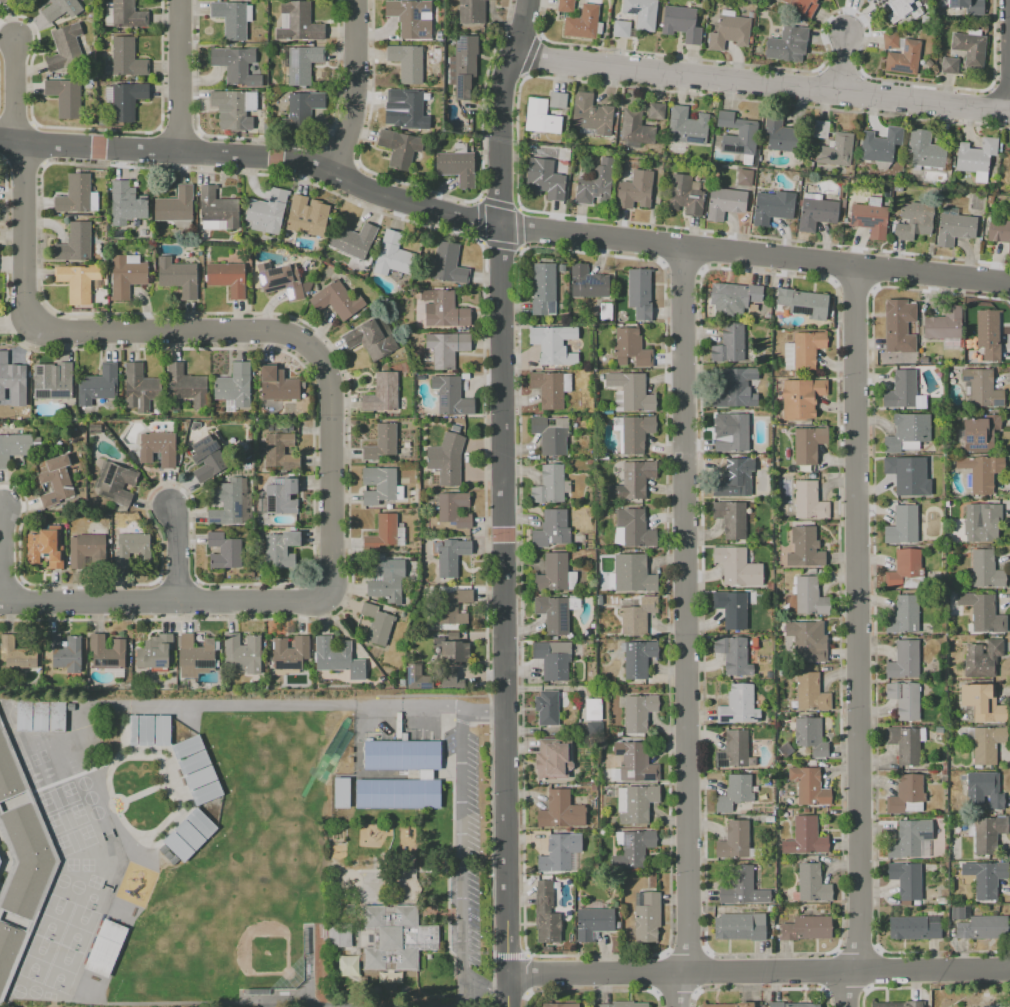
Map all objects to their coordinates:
building: (5, 1)
building: (563, 6)
building: (803, 6)
building: (965, 6)
building: (898, 8)
building: (61, 9)
building: (472, 11)
building: (641, 13)
building: (125, 15)
building: (231, 18)
building: (410, 18)
building: (297, 22)
building: (582, 22)
building: (681, 23)
building: (620, 28)
building: (729, 31)
building: (890, 39)
building: (786, 44)
building: (65, 48)
building: (970, 48)
road: (1005, 52)
building: (126, 57)
building: (904, 58)
building: (406, 62)
road: (844, 62)
building: (235, 64)
building: (302, 64)
building: (462, 65)
building: (949, 65)
road: (179, 76)
road: (760, 79)
road: (357, 91)
road: (14, 94)
building: (65, 96)
building: (557, 99)
building: (124, 100)
road: (1007, 105)
building: (408, 107)
building: (233, 108)
building: (301, 110)
road: (500, 110)
building: (656, 111)
building: (591, 114)
building: (541, 117)
building: (687, 126)
building: (635, 128)
building: (820, 129)
building: (737, 134)
building: (780, 134)
building: (879, 145)
building: (399, 147)
building: (836, 150)
building: (924, 150)
building: (564, 154)
building: (975, 156)
road: (251, 161)
building: (456, 164)
building: (744, 177)
building: (1009, 178)
building: (545, 179)
building: (596, 183)
building: (635, 190)
building: (76, 195)
building: (685, 195)
building: (125, 202)
building: (725, 202)
building: (175, 205)
building: (218, 207)
building: (772, 207)
building: (267, 211)
building: (816, 213)
building: (306, 216)
building: (869, 219)
building: (913, 220)
building: (954, 228)
building: (999, 232)
building: (353, 240)
building: (74, 243)
building: (394, 255)
road: (752, 256)
building: (448, 263)
building: (561, 267)
building: (126, 275)
building: (177, 276)
building: (227, 278)
building: (281, 279)
building: (77, 281)
building: (587, 282)
building: (543, 289)
building: (639, 292)
building: (733, 296)
building: (338, 300)
building: (804, 303)
building: (443, 309)
building: (605, 311)
building: (944, 323)
building: (896, 325)
road: (207, 332)
building: (988, 333)
building: (372, 337)
building: (554, 344)
building: (729, 344)
building: (631, 346)
building: (446, 347)
building: (807, 348)
building: (10, 376)
building: (601, 376)
building: (54, 384)
building: (98, 384)
building: (234, 385)
building: (278, 385)
building: (184, 387)
building: (549, 387)
building: (139, 388)
building: (735, 388)
building: (982, 388)
building: (901, 389)
building: (630, 391)
building: (382, 393)
building: (451, 396)
building: (801, 397)
building: (919, 401)
building: (95, 428)
building: (74, 430)
building: (633, 431)
building: (907, 432)
building: (979, 433)
building: (551, 434)
building: (733, 434)
building: (381, 442)
building: (809, 444)
building: (14, 447)
building: (157, 448)
building: (280, 451)
building: (207, 458)
building: (446, 458)
building: (980, 472)
building: (905, 476)
building: (633, 479)
building: (732, 479)
building: (56, 480)
building: (114, 483)
building: (380, 485)
building: (550, 485)
building: (282, 496)
building: (809, 501)
building: (226, 503)
building: (450, 508)
building: (731, 518)
building: (982, 523)
building: (902, 525)
building: (632, 527)
building: (551, 529)
building: (386, 533)
building: (807, 544)
building: (46, 547)
building: (132, 549)
building: (280, 549)
building: (87, 550)
building: (223, 551)
road: (174, 554)
building: (449, 556)
road: (5, 557)
building: (736, 566)
building: (985, 569)
building: (905, 570)
building: (555, 573)
building: (635, 574)
building: (386, 580)
building: (809, 597)
road: (162, 598)
building: (574, 602)
building: (453, 607)
building: (731, 608)
building: (983, 612)
building: (553, 613)
road: (503, 615)
building: (637, 615)
building: (903, 615)
building: (377, 624)
road: (688, 627)
building: (452, 636)
road: (860, 637)
building: (808, 640)
building: (453, 650)
building: (64, 652)
building: (155, 652)
building: (289, 652)
building: (242, 653)
building: (16, 654)
building: (108, 655)
building: (195, 655)
building: (733, 655)
building: (337, 657)
building: (637, 657)
building: (553, 658)
building: (982, 658)
building: (904, 660)
building: (417, 677)
building: (382, 678)
building: (402, 682)
building: (460, 683)
building: (811, 692)
building: (905, 699)
building: (982, 702)
building: (738, 705)
building: (547, 707)
building: (593, 708)
road: (418, 709)
road: (483, 711)
building: (638, 711)
building: (24, 716)
building: (40, 716)
building: (57, 716)
building: (594, 727)
building: (150, 730)
parking lot: (414, 734)
building: (810, 736)
parking lot: (449, 743)
building: (906, 743)
building: (986, 744)
park: (334, 749)
building: (733, 750)
park: (43, 755)
building: (402, 755)
park: (33, 759)
building: (553, 759)
building: (353, 760)
building: (635, 761)
park: (25, 763)
park: (72, 765)
building: (197, 770)
building: (8, 772)
building: (425, 774)
park: (83, 782)
building: (809, 786)
park: (67, 788)
building: (984, 790)
parking lot: (473, 791)
building: (734, 792)
building: (342, 793)
building: (398, 793)
building: (906, 795)
park: (57, 797)
park: (89, 797)
park: (43, 799)
building: (635, 803)
road: (5, 804)
building: (21, 804)
park: (77, 810)
building: (561, 811)
park: (95, 812)
park: (66, 819)
park: (52, 820)
park: (85, 830)
building: (988, 833)
building: (189, 834)
building: (805, 837)
park: (74, 840)
building: (734, 840)
building: (905, 840)
park: (61, 841)
building: (634, 847)
road: (462, 848)
building: (556, 853)
building: (0, 860)
road: (3, 860)
building: (25, 860)
park: (71, 864)
park: (87, 864)
building: (9, 875)
building: (985, 877)
building: (906, 879)
park: (61, 880)
park: (93, 881)
building: (812, 883)
park: (76, 886)
building: (741, 886)
park: (91, 899)
building: (546, 913)
building: (957, 913)
building: (646, 916)
park: (54, 917)
building: (25, 919)
parking lot: (473, 923)
building: (593, 923)
building: (740, 926)
building: (982, 927)
park: (79, 928)
building: (806, 928)
building: (913, 928)
building: (339, 935)
building: (396, 938)
building: (8, 948)
building: (105, 948)
building: (547, 948)
park: (263, 949)
park: (37, 958)
road: (309, 964)
building: (348, 965)
park: (62, 969)
road: (970, 970)
road: (719, 971)
building: (389, 976)
road: (486, 986)
park: (18, 991)
park: (33, 991)
park: (48, 995)
road: (184, 1002)
road: (262, 1004)
building: (624, 1004)
building: (899, 1004)
building: (560, 1005)
building: (728, 1005)
building: (791, 1005)
building: (255, 1006)
road: (377, 1006)
road: (428, 1006)
road: (451, 1006)

